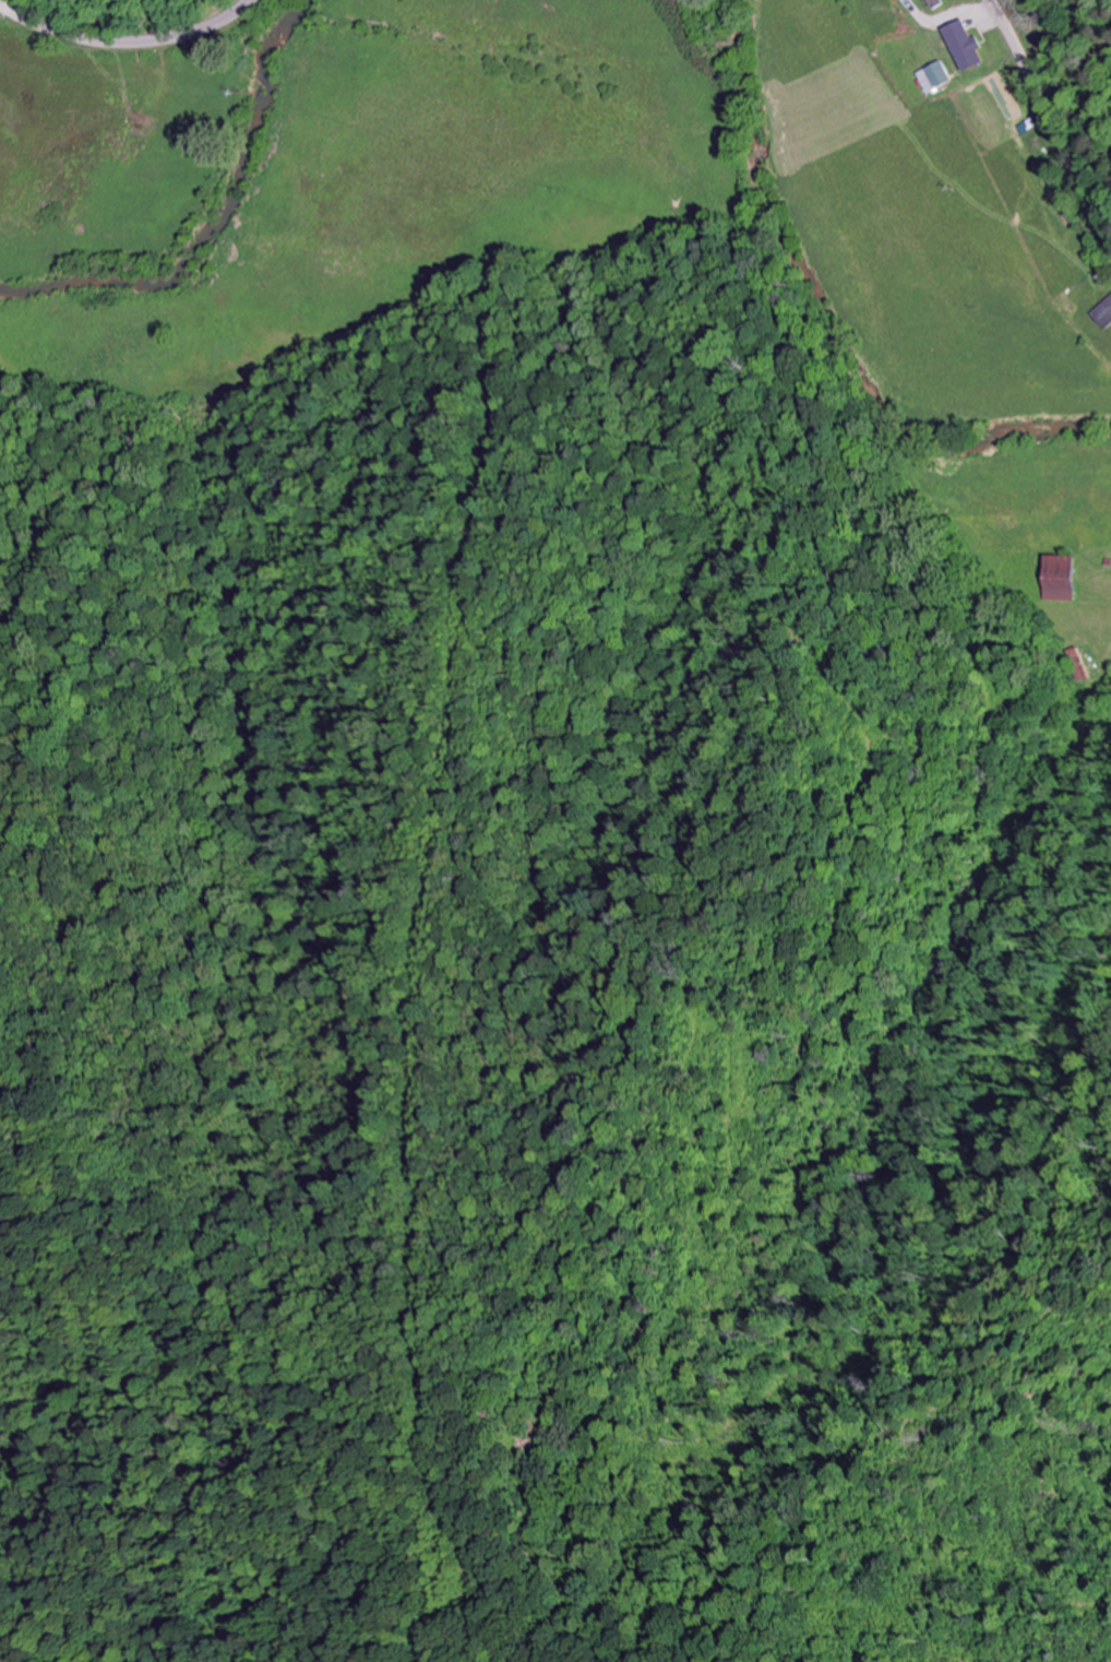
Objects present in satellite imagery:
road: (131, 45)
building: (968, 46)
building: (936, 76)
road: (1050, 121)
building: (1106, 314)
building: (1062, 578)

